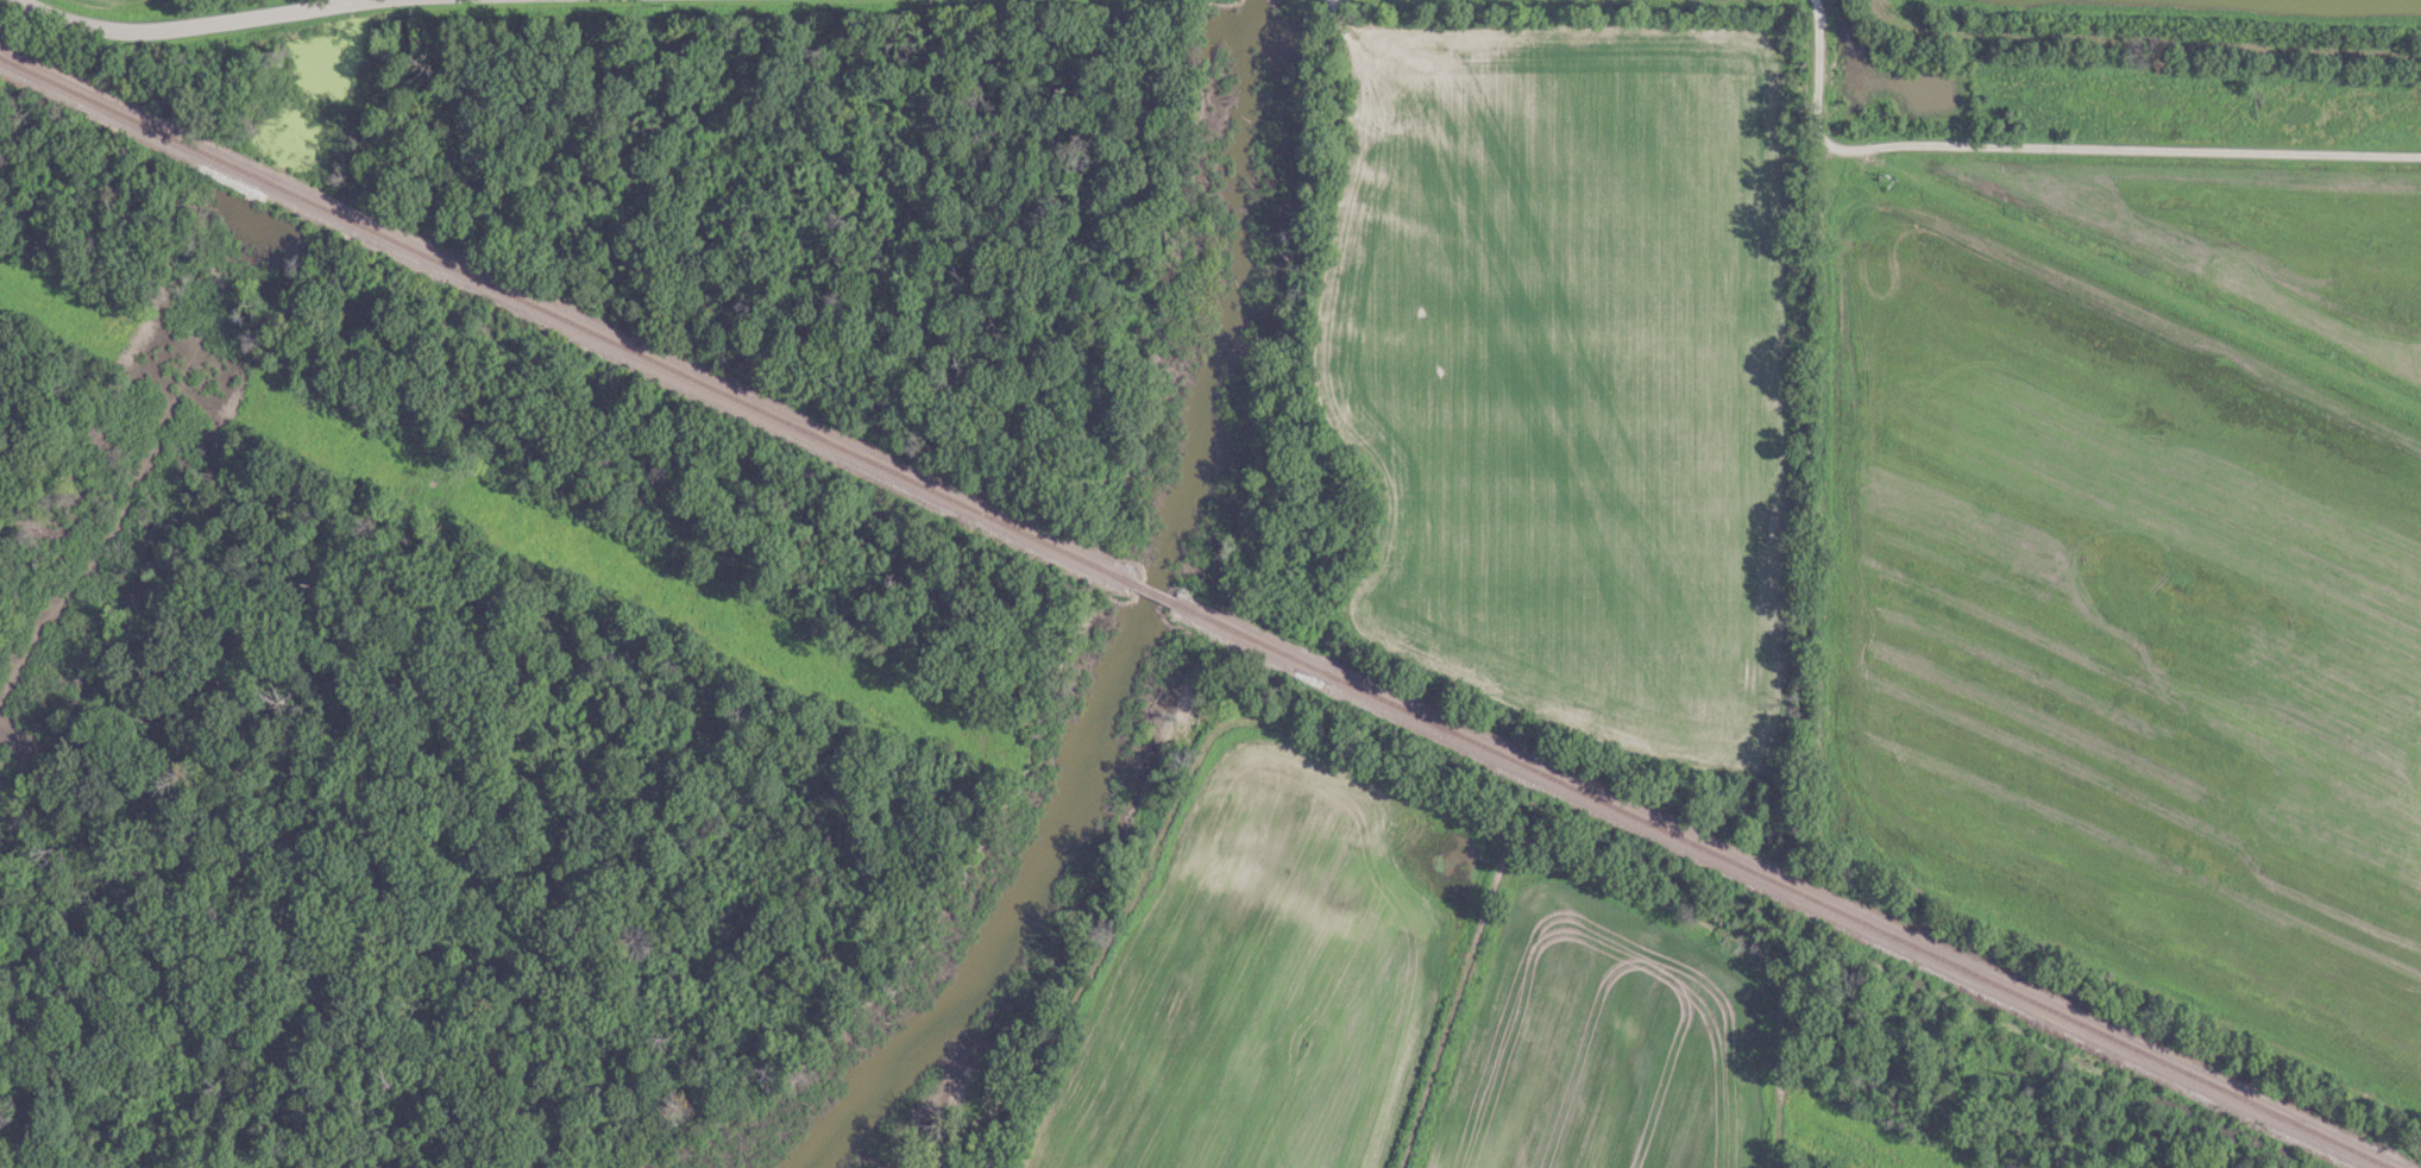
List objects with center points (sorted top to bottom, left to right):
road: (206, 21)
road: (1816, 77)
road: (2131, 145)
railway: (560, 318)
railway: (1155, 594)
railway: (1790, 888)

